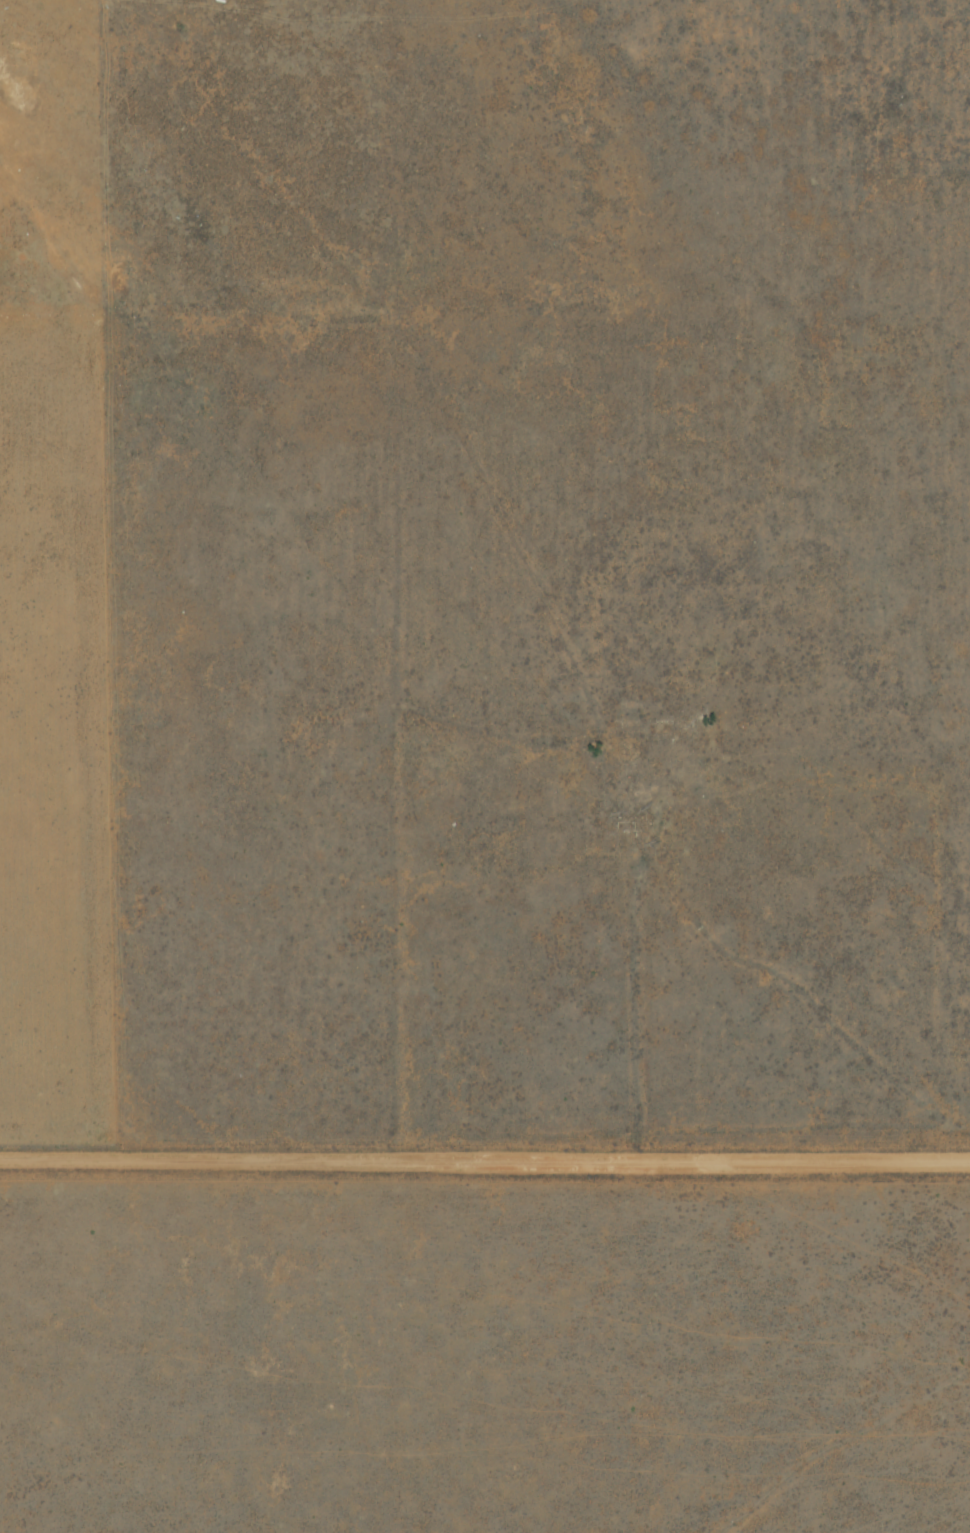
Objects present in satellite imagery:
road: (485, 1165)

